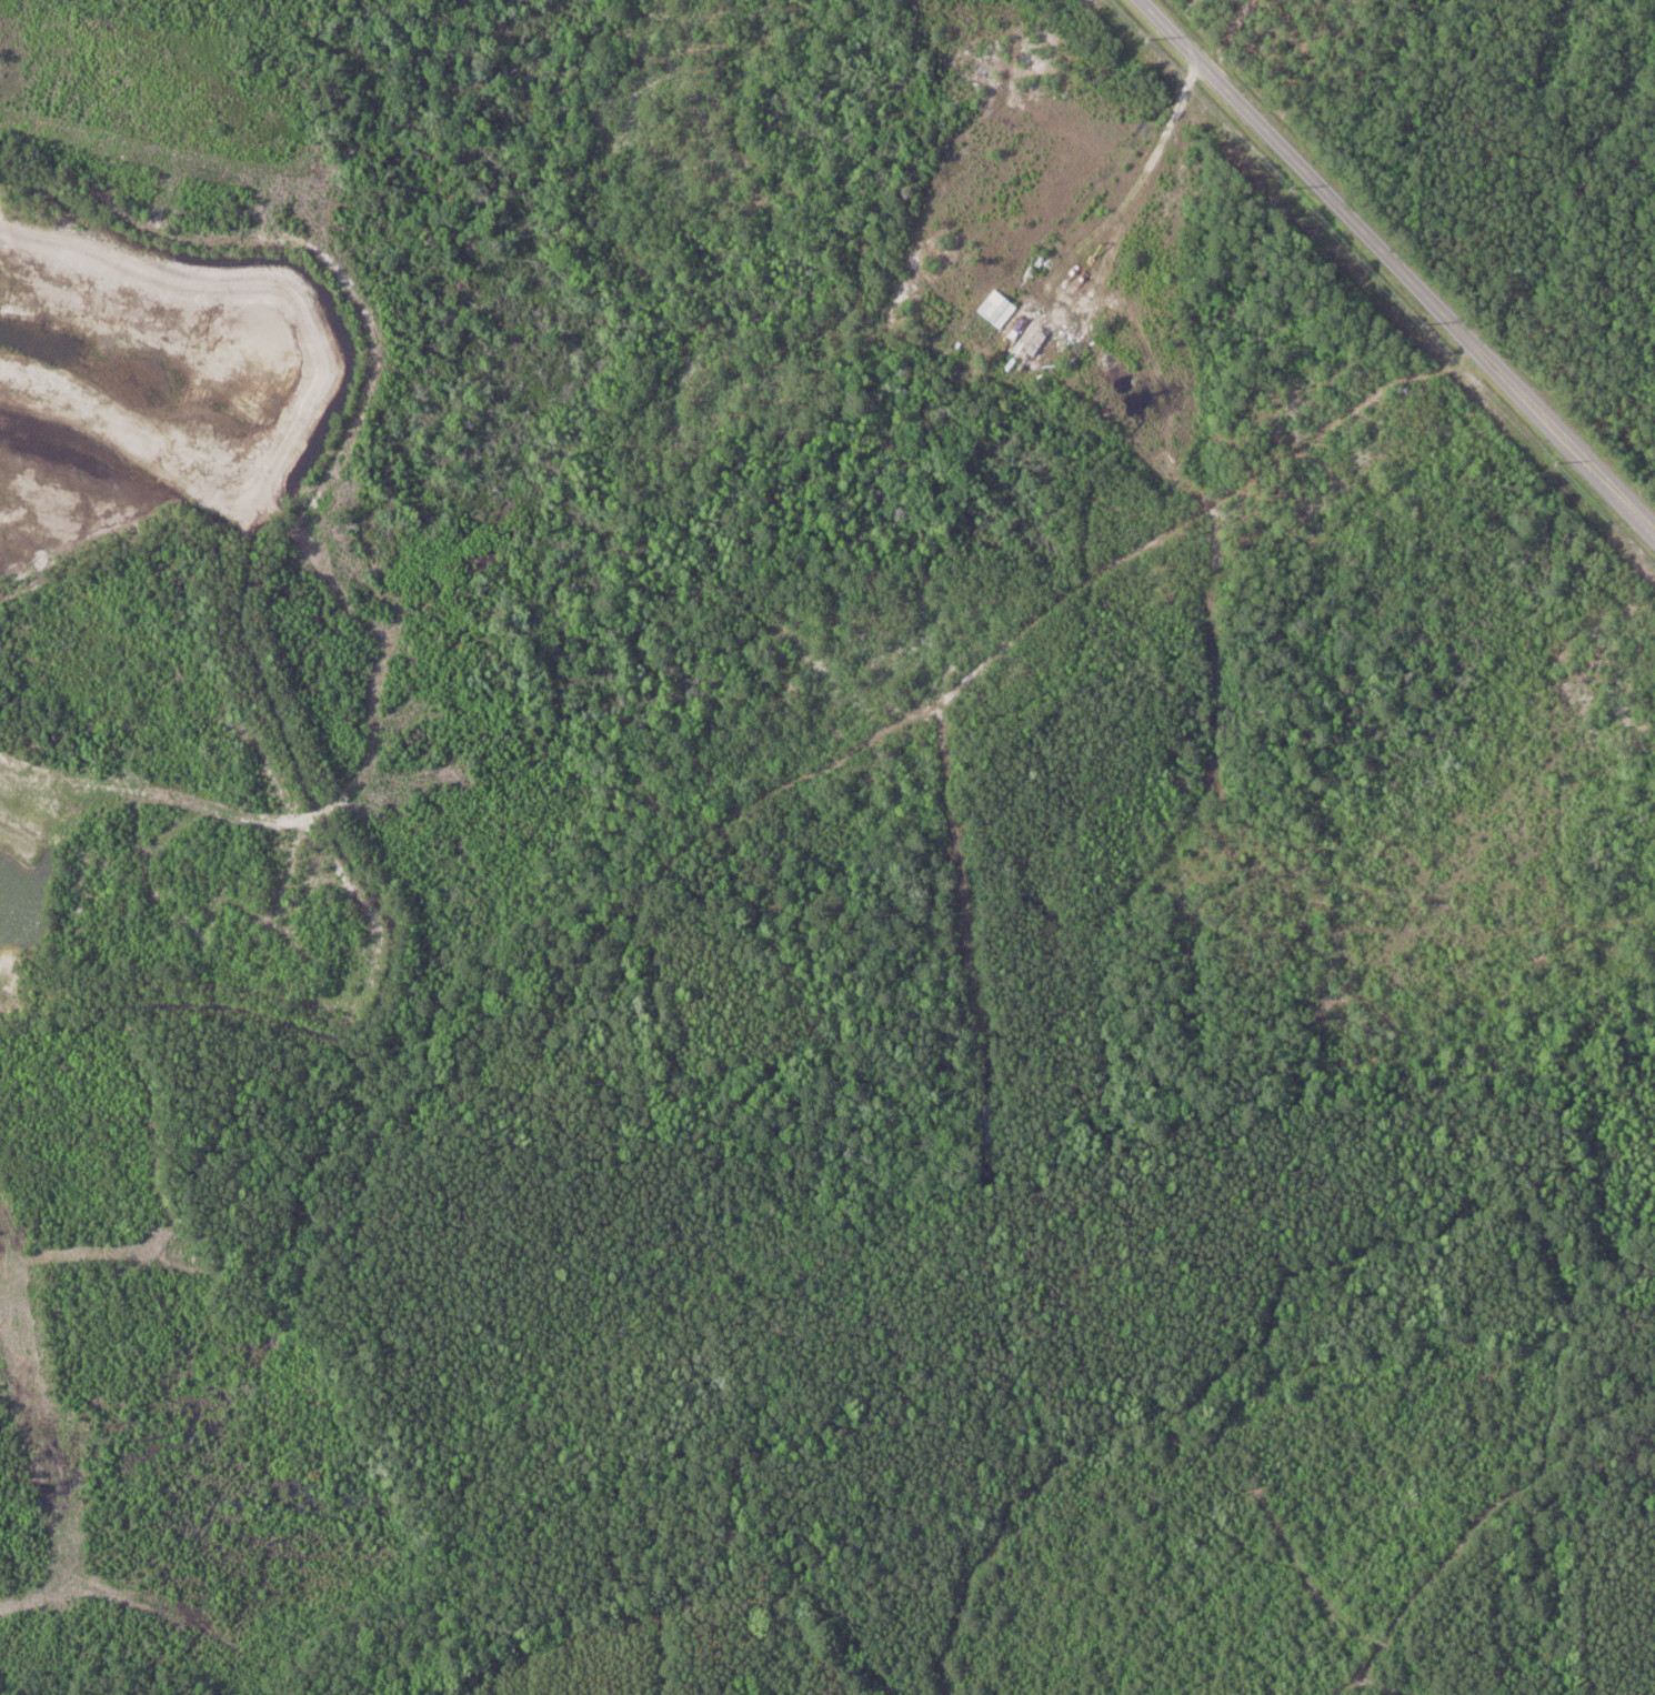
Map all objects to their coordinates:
road: (1260, 61)
road: (1398, 268)
building: (997, 308)

